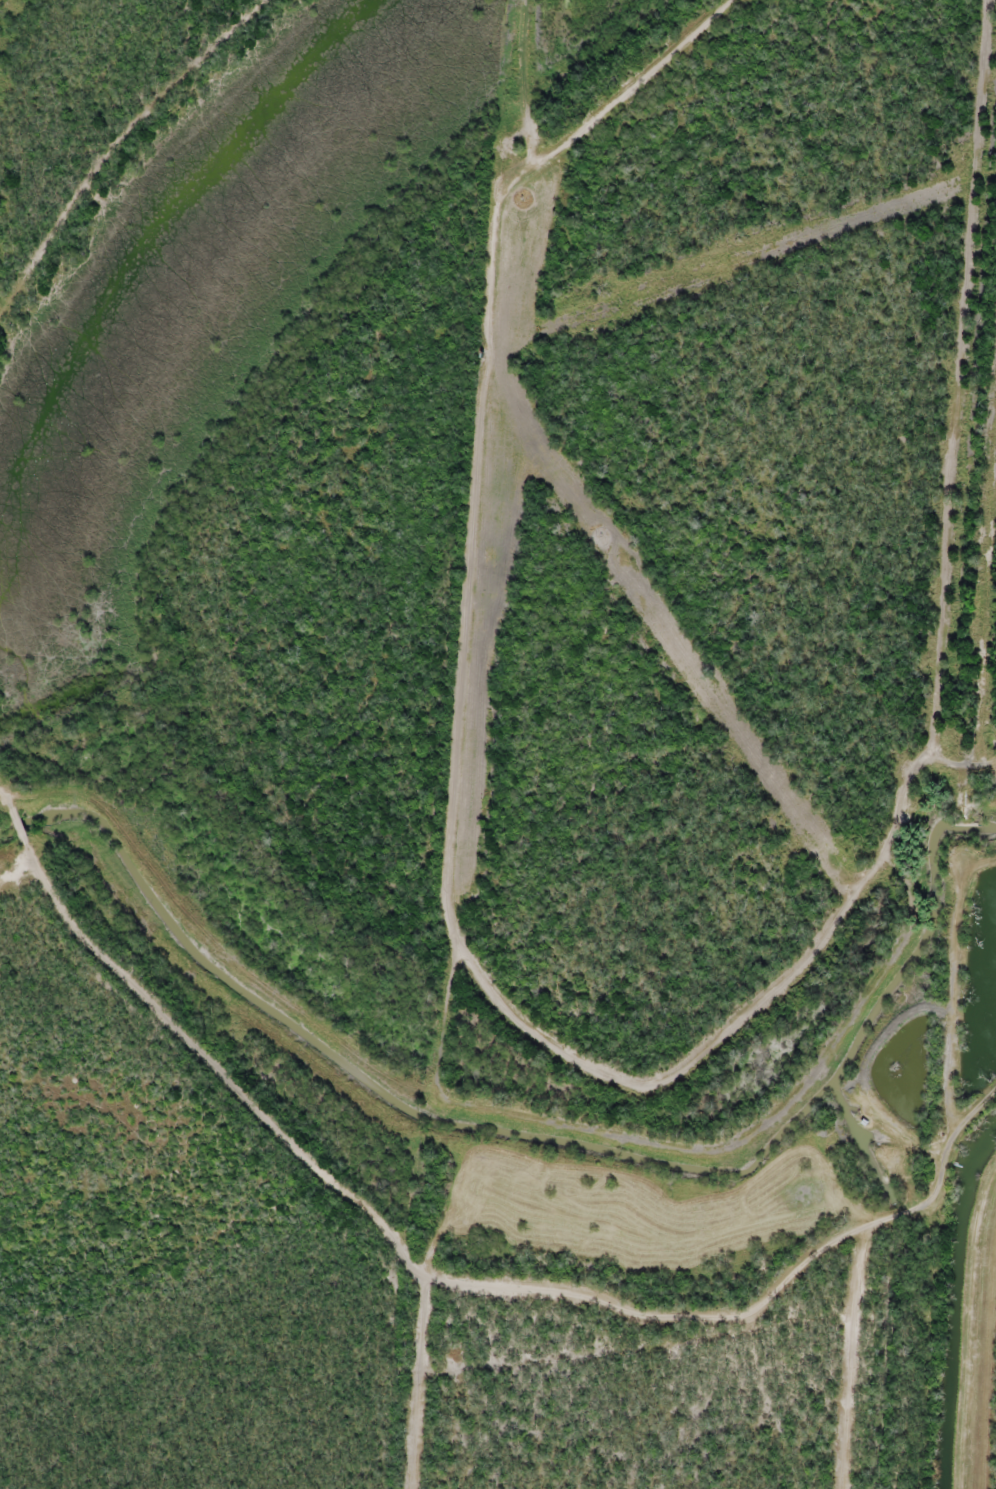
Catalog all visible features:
road: (116, 158)
road: (112, 748)
road: (49, 865)
road: (287, 1167)

